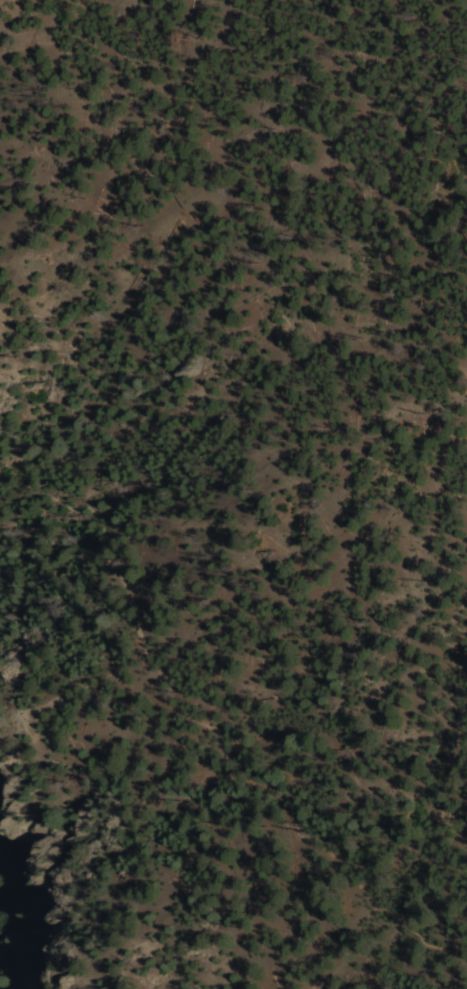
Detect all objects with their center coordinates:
road: (381, 81)
road: (458, 709)
road: (218, 732)

